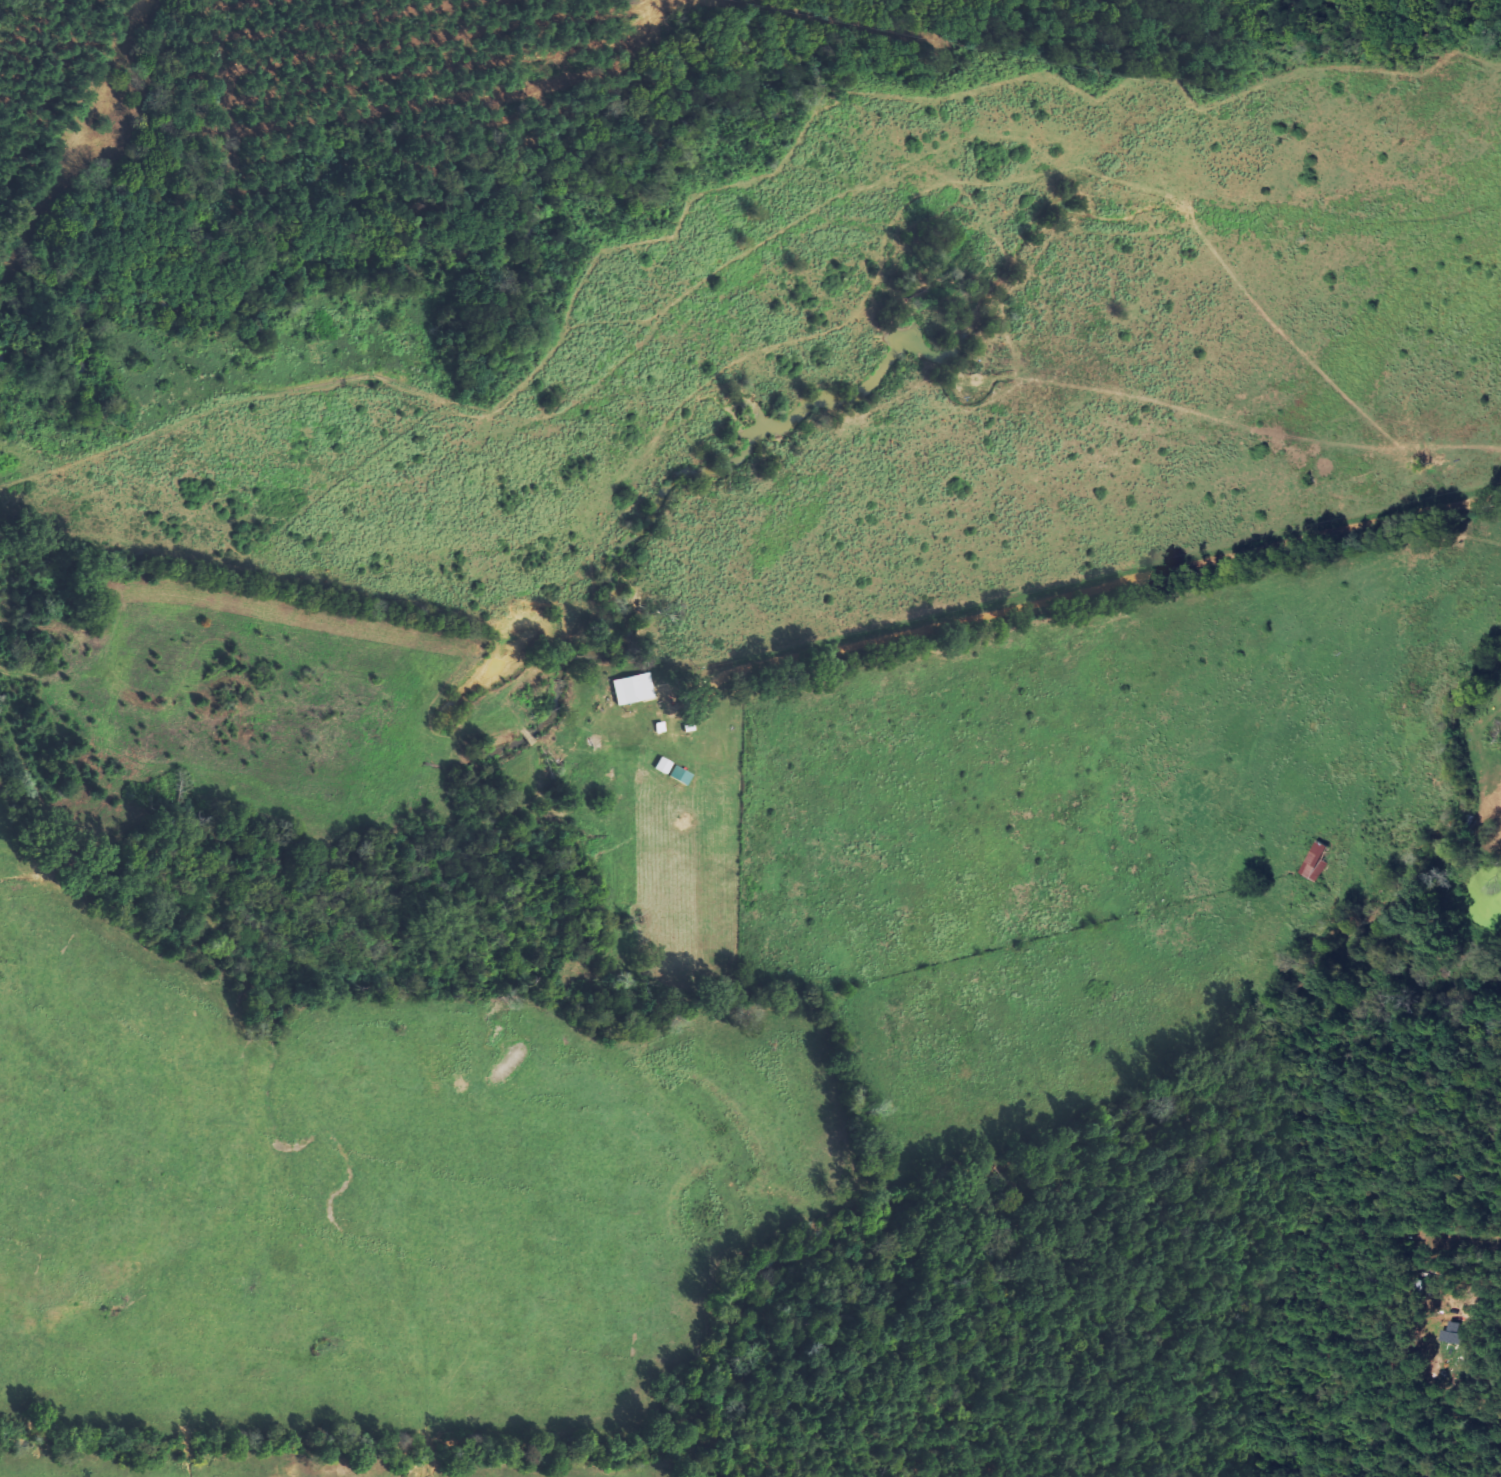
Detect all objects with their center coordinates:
road: (1158, 579)
building: (635, 689)
building: (1318, 862)
building: (1453, 1335)

